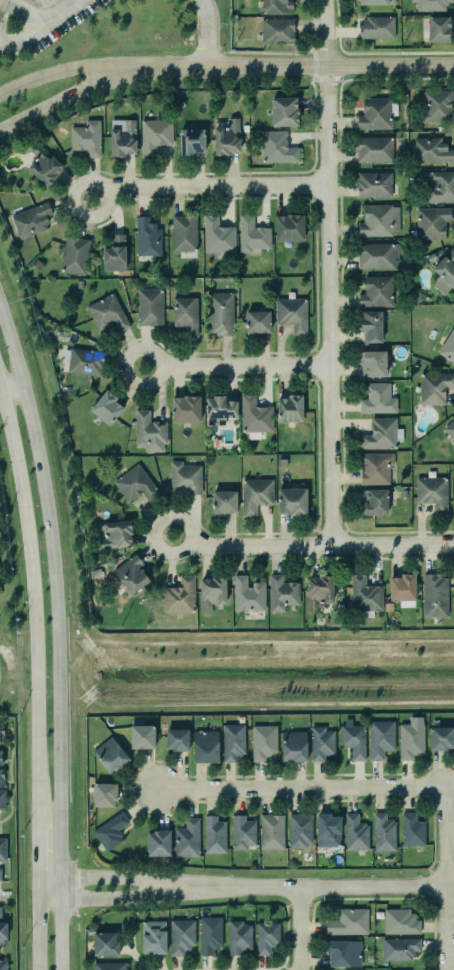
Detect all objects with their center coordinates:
building: (47, 0)
building: (40, 1)
building: (377, 2)
building: (272, 4)
building: (430, 4)
road: (59, 13)
road: (41, 26)
building: (376, 27)
building: (275, 28)
building: (438, 29)
road: (323, 32)
road: (206, 34)
road: (289, 66)
road: (61, 72)
road: (60, 94)
building: (436, 106)
building: (283, 111)
building: (374, 114)
building: (152, 135)
building: (118, 136)
building: (84, 137)
building: (224, 138)
building: (189, 141)
building: (279, 147)
building: (374, 149)
building: (431, 150)
building: (41, 164)
building: (373, 184)
building: (439, 186)
road: (207, 187)
building: (30, 218)
building: (379, 220)
building: (431, 222)
building: (289, 226)
building: (181, 233)
building: (251, 233)
building: (215, 235)
building: (145, 236)
building: (114, 252)
building: (378, 255)
building: (73, 256)
building: (430, 256)
building: (33, 263)
building: (444, 271)
building: (376, 291)
road: (326, 304)
building: (149, 306)
building: (107, 313)
building: (219, 313)
building: (292, 313)
building: (185, 314)
building: (257, 320)
building: (371, 325)
building: (448, 345)
building: (85, 361)
building: (372, 362)
road: (235, 366)
road: (13, 385)
building: (434, 387)
building: (377, 398)
building: (106, 407)
building: (290, 407)
building: (185, 408)
building: (219, 408)
building: (254, 415)
building: (450, 428)
building: (148, 431)
building: (380, 434)
building: (453, 445)
building: (280, 448)
building: (282, 462)
building: (375, 468)
building: (184, 478)
building: (135, 483)
building: (432, 492)
building: (403, 493)
building: (255, 494)
building: (291, 500)
building: (374, 501)
building: (223, 502)
building: (114, 535)
road: (322, 545)
road: (182, 551)
building: (130, 574)
building: (402, 587)
building: (318, 591)
building: (211, 592)
building: (282, 592)
building: (247, 594)
building: (364, 594)
building: (434, 595)
road: (32, 596)
building: (179, 596)
road: (85, 630)
road: (57, 632)
road: (279, 642)
road: (3, 656)
road: (81, 666)
park: (263, 672)
road: (8, 679)
road: (331, 701)
road: (151, 703)
building: (2, 735)
building: (142, 736)
building: (441, 737)
building: (380, 738)
building: (176, 739)
building: (353, 739)
building: (410, 740)
building: (232, 741)
building: (263, 741)
building: (321, 742)
building: (205, 746)
building: (293, 746)
building: (110, 754)
building: (0, 757)
road: (9, 777)
building: (1, 778)
road: (300, 788)
building: (104, 794)
building: (2, 797)
building: (299, 830)
building: (328, 830)
building: (412, 830)
building: (109, 831)
building: (271, 831)
building: (242, 832)
building: (355, 833)
building: (383, 833)
building: (214, 834)
building: (186, 839)
building: (158, 843)
building: (3, 849)
road: (35, 849)
building: (0, 875)
road: (446, 878)
road: (140, 879)
road: (349, 887)
road: (140, 896)
road: (3, 897)
building: (0, 912)
building: (348, 921)
building: (400, 921)
road: (299, 928)
road: (37, 929)
building: (2, 931)
building: (209, 934)
building: (153, 935)
building: (181, 935)
building: (266, 936)
building: (238, 937)
building: (104, 943)
building: (399, 947)
building: (343, 952)
building: (3, 965)
building: (109, 966)
building: (354, 969)

